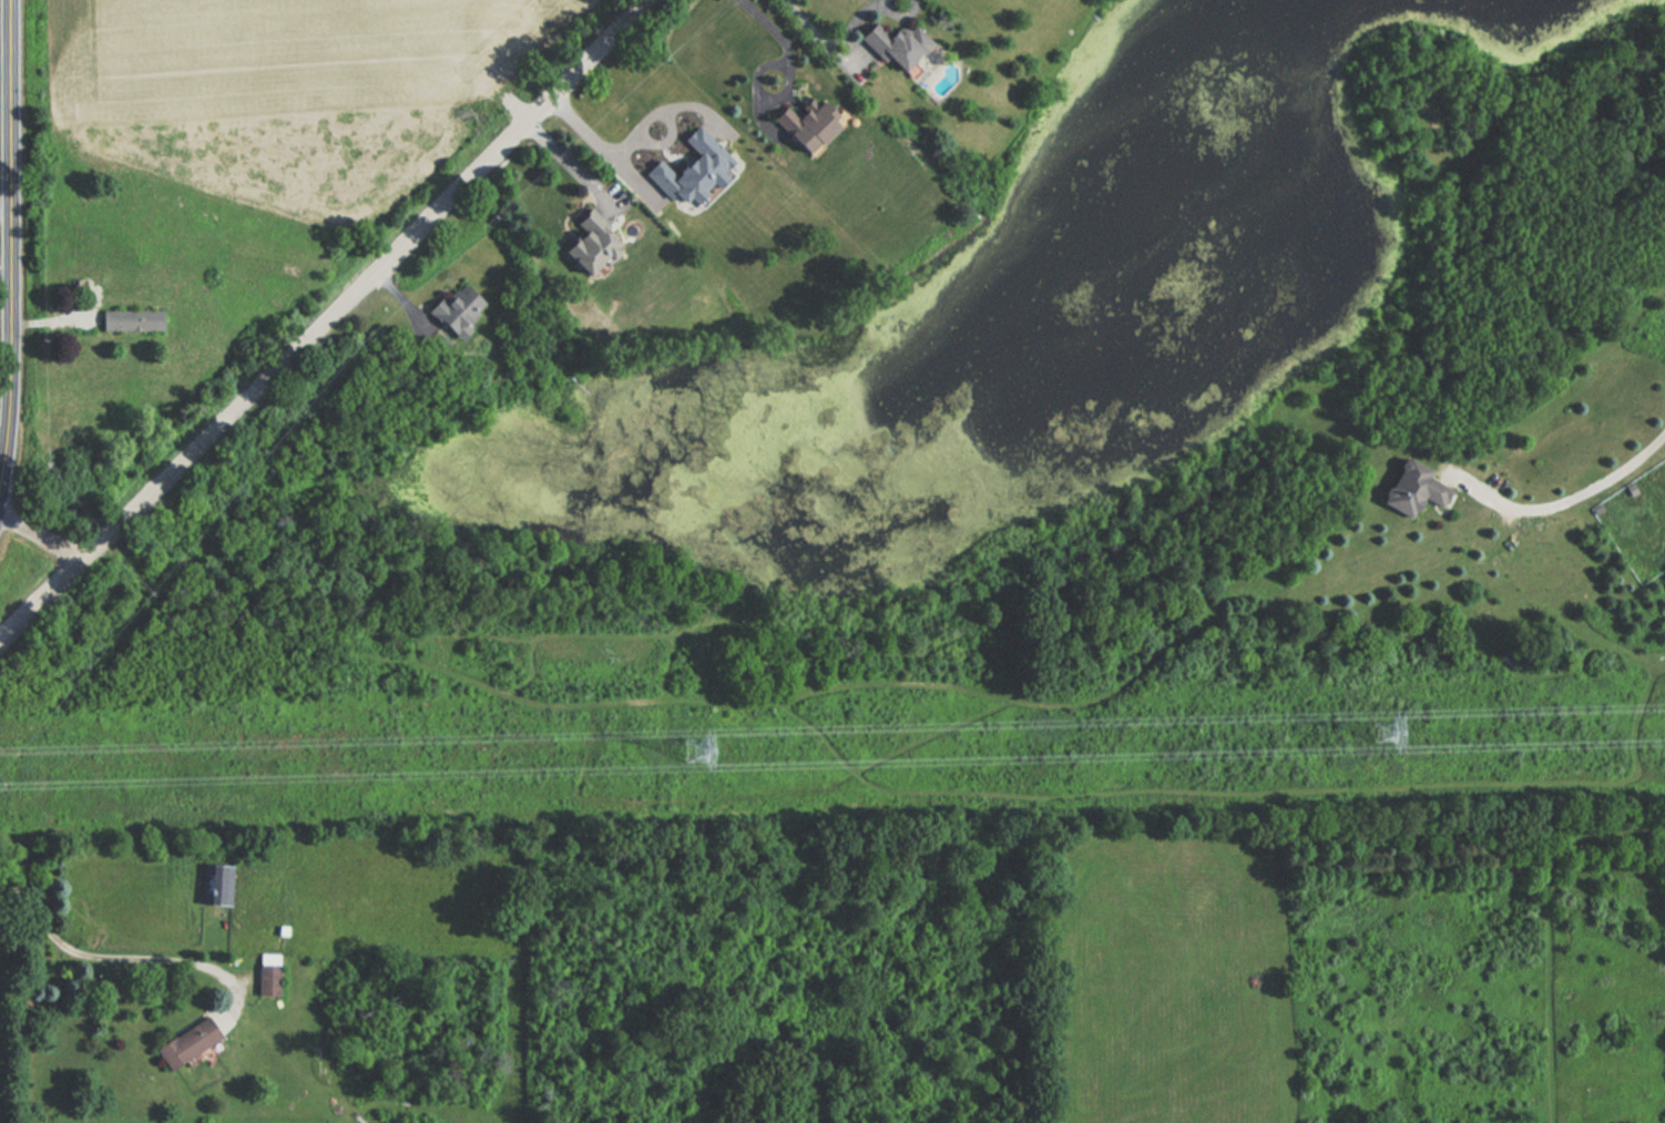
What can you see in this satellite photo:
road: (883, 1)
road: (899, 16)
road: (777, 25)
road: (830, 42)
road: (8, 43)
building: (896, 49)
road: (763, 86)
crop: (289, 90)
road: (760, 112)
building: (801, 126)
road: (595, 146)
building: (586, 245)
road: (6, 278)
road: (12, 284)
building: (452, 310)
building: (130, 320)
road: (325, 320)
building: (1411, 490)
road: (1564, 494)
road: (42, 538)
power tower: (1369, 731)
power tower: (677, 748)
building: (214, 885)
road: (110, 958)
building: (264, 974)
building: (184, 1042)

